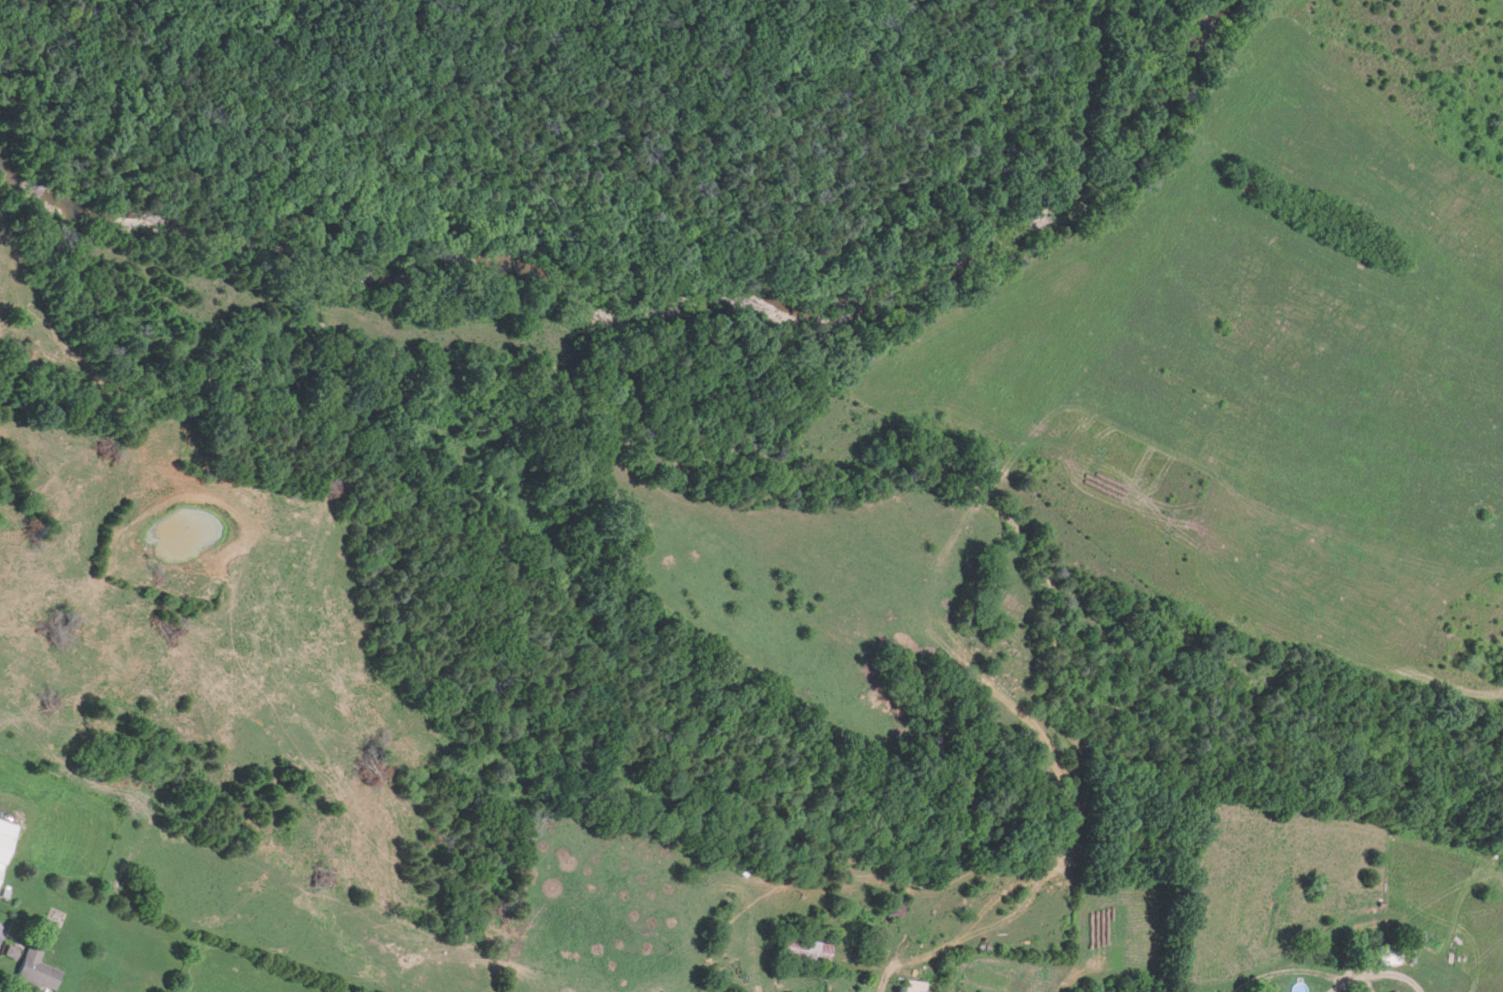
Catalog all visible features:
building: (1488, 841)
building: (893, 907)
building: (799, 950)
building: (1384, 953)
building: (32, 968)
building: (900, 991)
building: (1390, 991)

